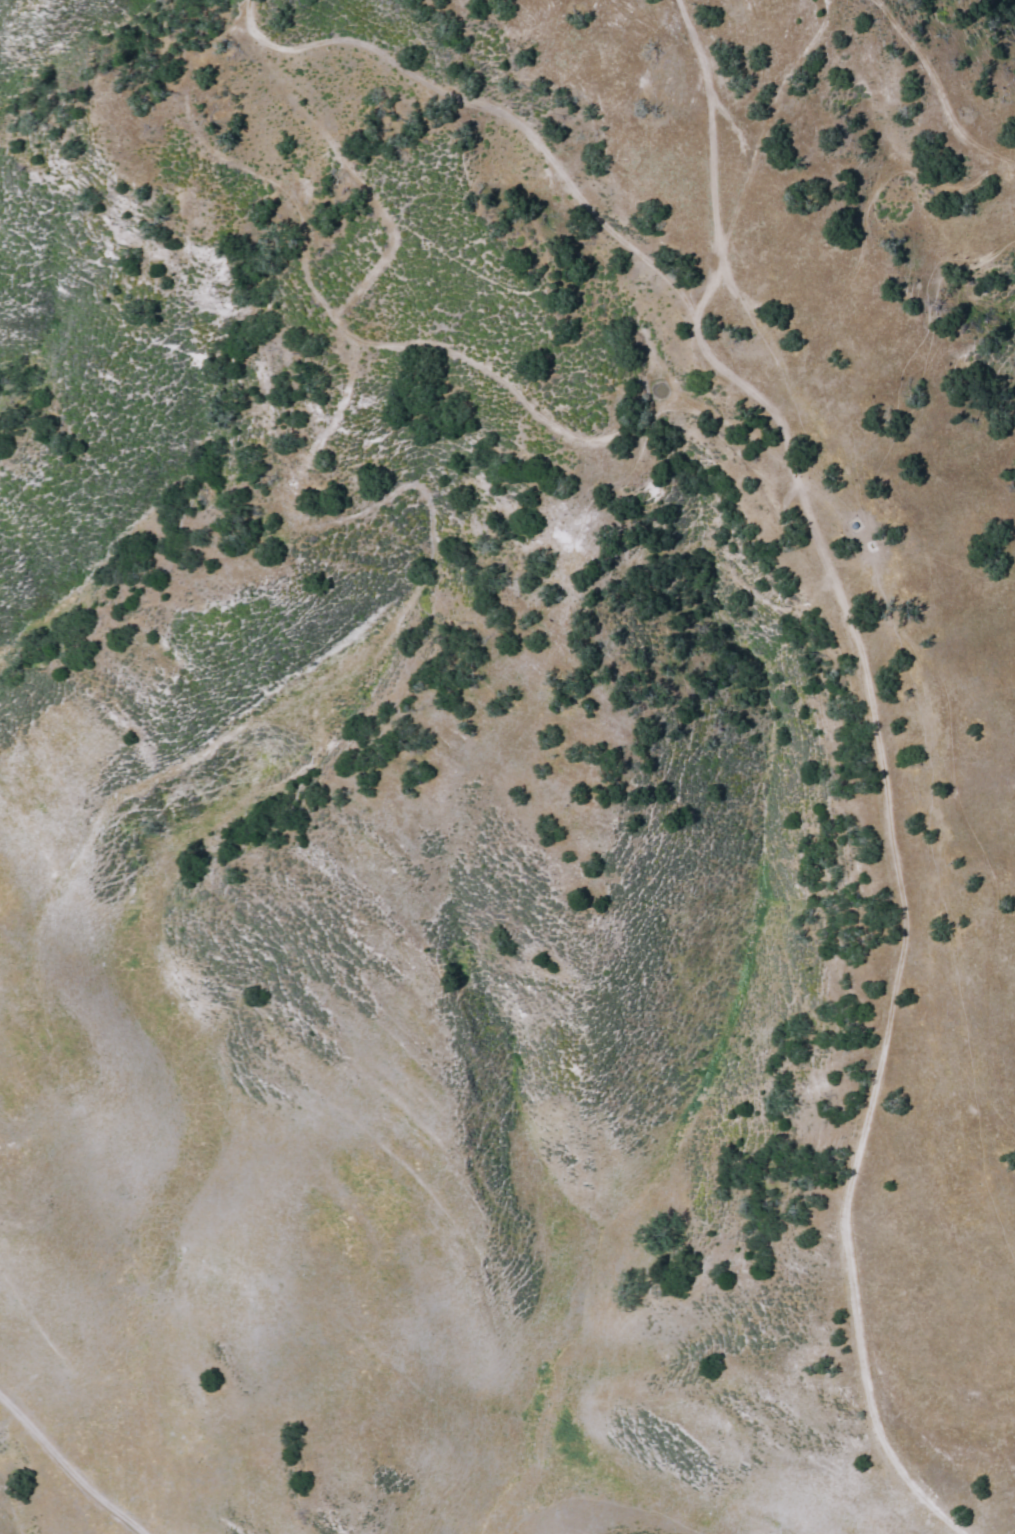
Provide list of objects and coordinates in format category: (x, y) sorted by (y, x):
road: (883, 761)
road: (68, 1465)

